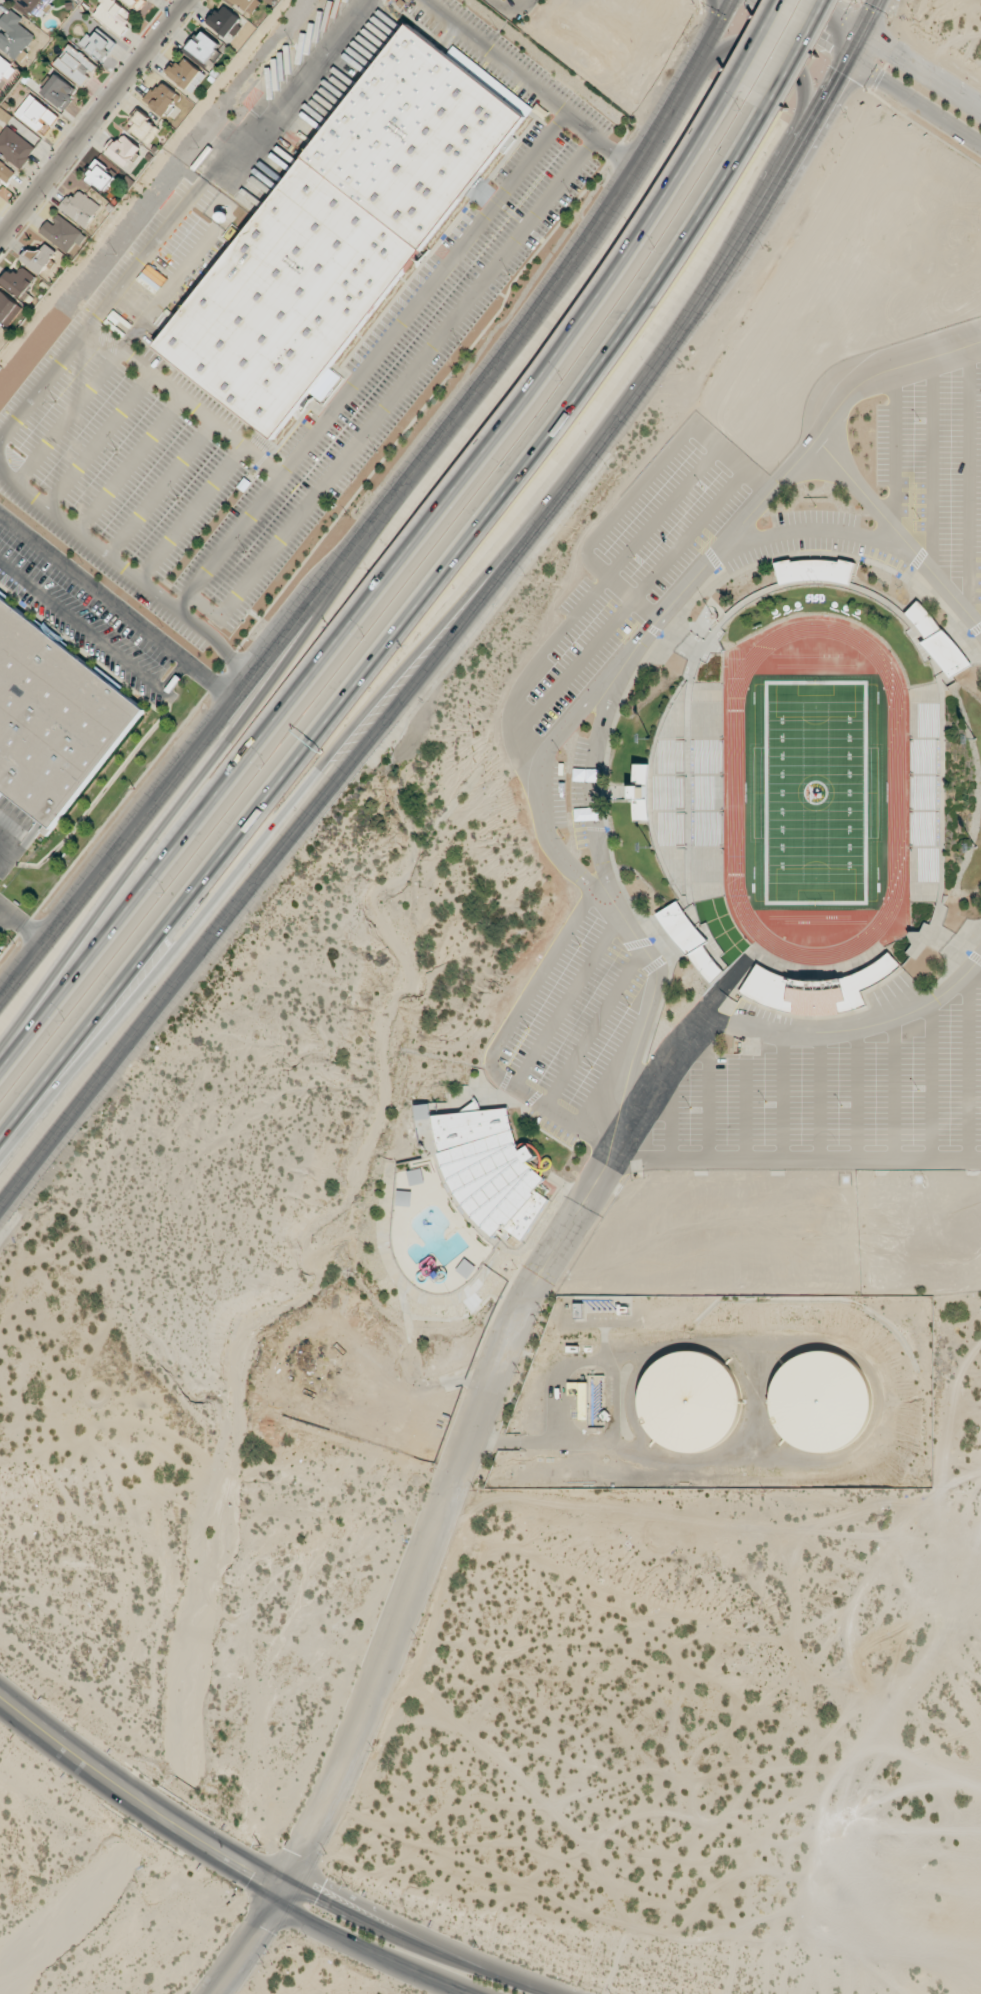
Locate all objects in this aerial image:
building: (136, 3)
building: (246, 4)
building: (35, 5)
road: (511, 11)
building: (113, 15)
building: (225, 21)
road: (812, 23)
building: (13, 35)
building: (98, 44)
building: (204, 46)
road: (756, 47)
traffic signals: (856, 47)
road: (796, 57)
building: (75, 64)
building: (6, 68)
road: (922, 69)
building: (187, 74)
road: (799, 79)
building: (59, 91)
building: (161, 98)
road: (914, 102)
road: (94, 120)
building: (143, 127)
building: (15, 147)
building: (124, 150)
building: (6, 172)
building: (100, 176)
building: (80, 208)
building: (62, 233)
building: (337, 234)
building: (38, 256)
building: (18, 281)
building: (8, 308)
road: (894, 448)
road: (931, 463)
parking lot: (935, 468)
road: (968, 478)
road: (773, 485)
road: (639, 488)
road: (384, 511)
road: (822, 531)
road: (897, 533)
parking lot: (807, 538)
building: (814, 570)
parking lot: (630, 572)
road: (377, 590)
road: (585, 600)
road: (629, 602)
road: (114, 608)
road: (462, 619)
road: (397, 634)
building: (937, 640)
building: (54, 718)
road: (208, 774)
road: (540, 788)
road: (592, 788)
park: (814, 791)
track: (894, 791)
building: (639, 792)
building: (688, 792)
building: (922, 792)
parking lot: (570, 793)
road: (271, 831)
road: (5, 917)
road: (23, 921)
building: (695, 941)
building: (815, 989)
road: (567, 1001)
road: (644, 1017)
parking lot: (568, 1026)
road: (593, 1026)
road: (853, 1028)
road: (498, 1038)
road: (967, 1064)
road: (930, 1079)
road: (895, 1087)
road: (856, 1093)
road: (707, 1094)
road: (781, 1095)
road: (818, 1095)
parking lot: (831, 1100)
road: (744, 1110)
building: (423, 1111)
road: (671, 1112)
road: (795, 1158)
building: (491, 1169)
building: (466, 1268)
building: (580, 1397)
building: (819, 1401)
storage tank: (819, 1401)
building: (688, 1402)
storage tank: (688, 1402)
road: (469, 1442)
road: (133, 1814)
road: (237, 1851)
road: (332, 1931)
road: (248, 1944)
road: (429, 1977)
road: (521, 1985)

